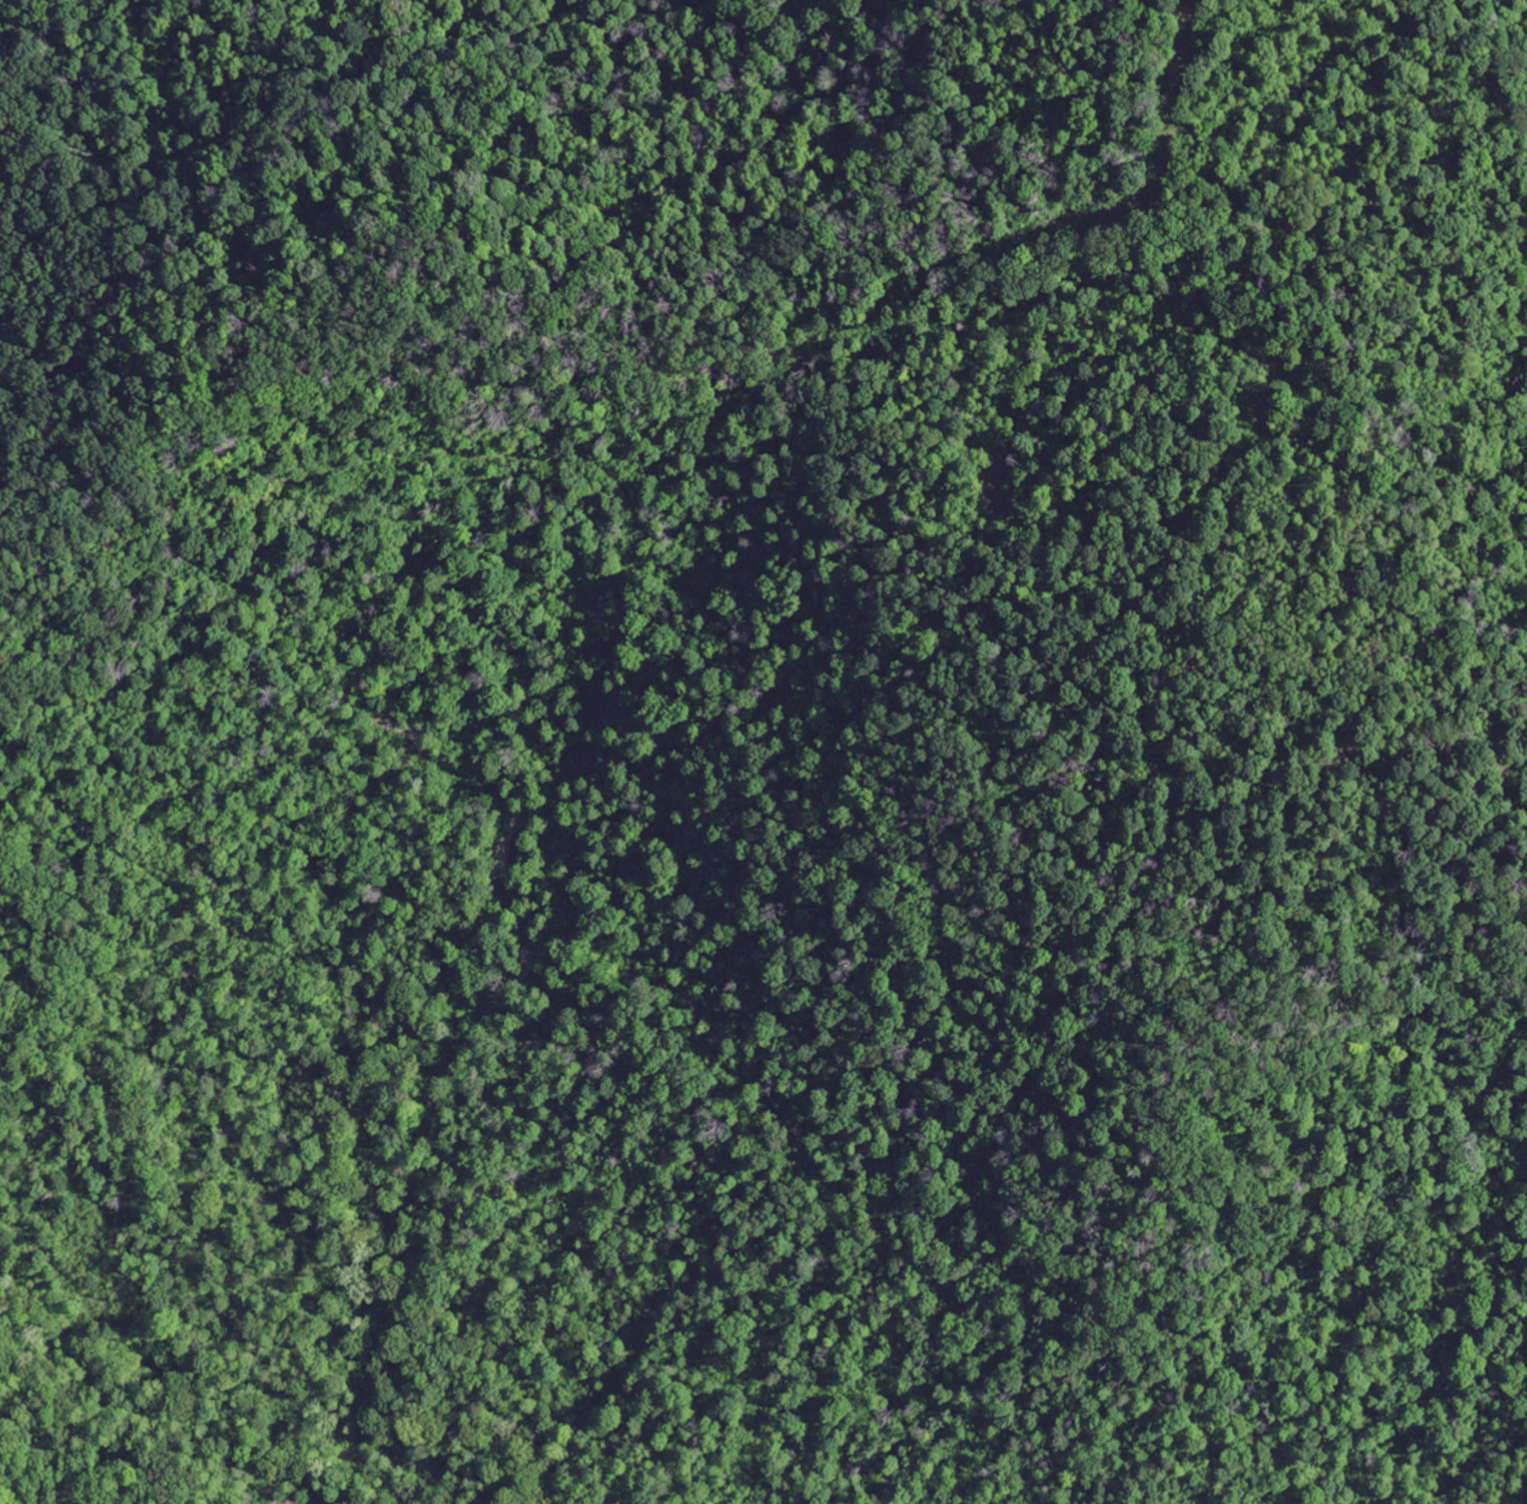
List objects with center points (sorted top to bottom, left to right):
road: (541, 283)
road: (510, 567)
road: (460, 771)

